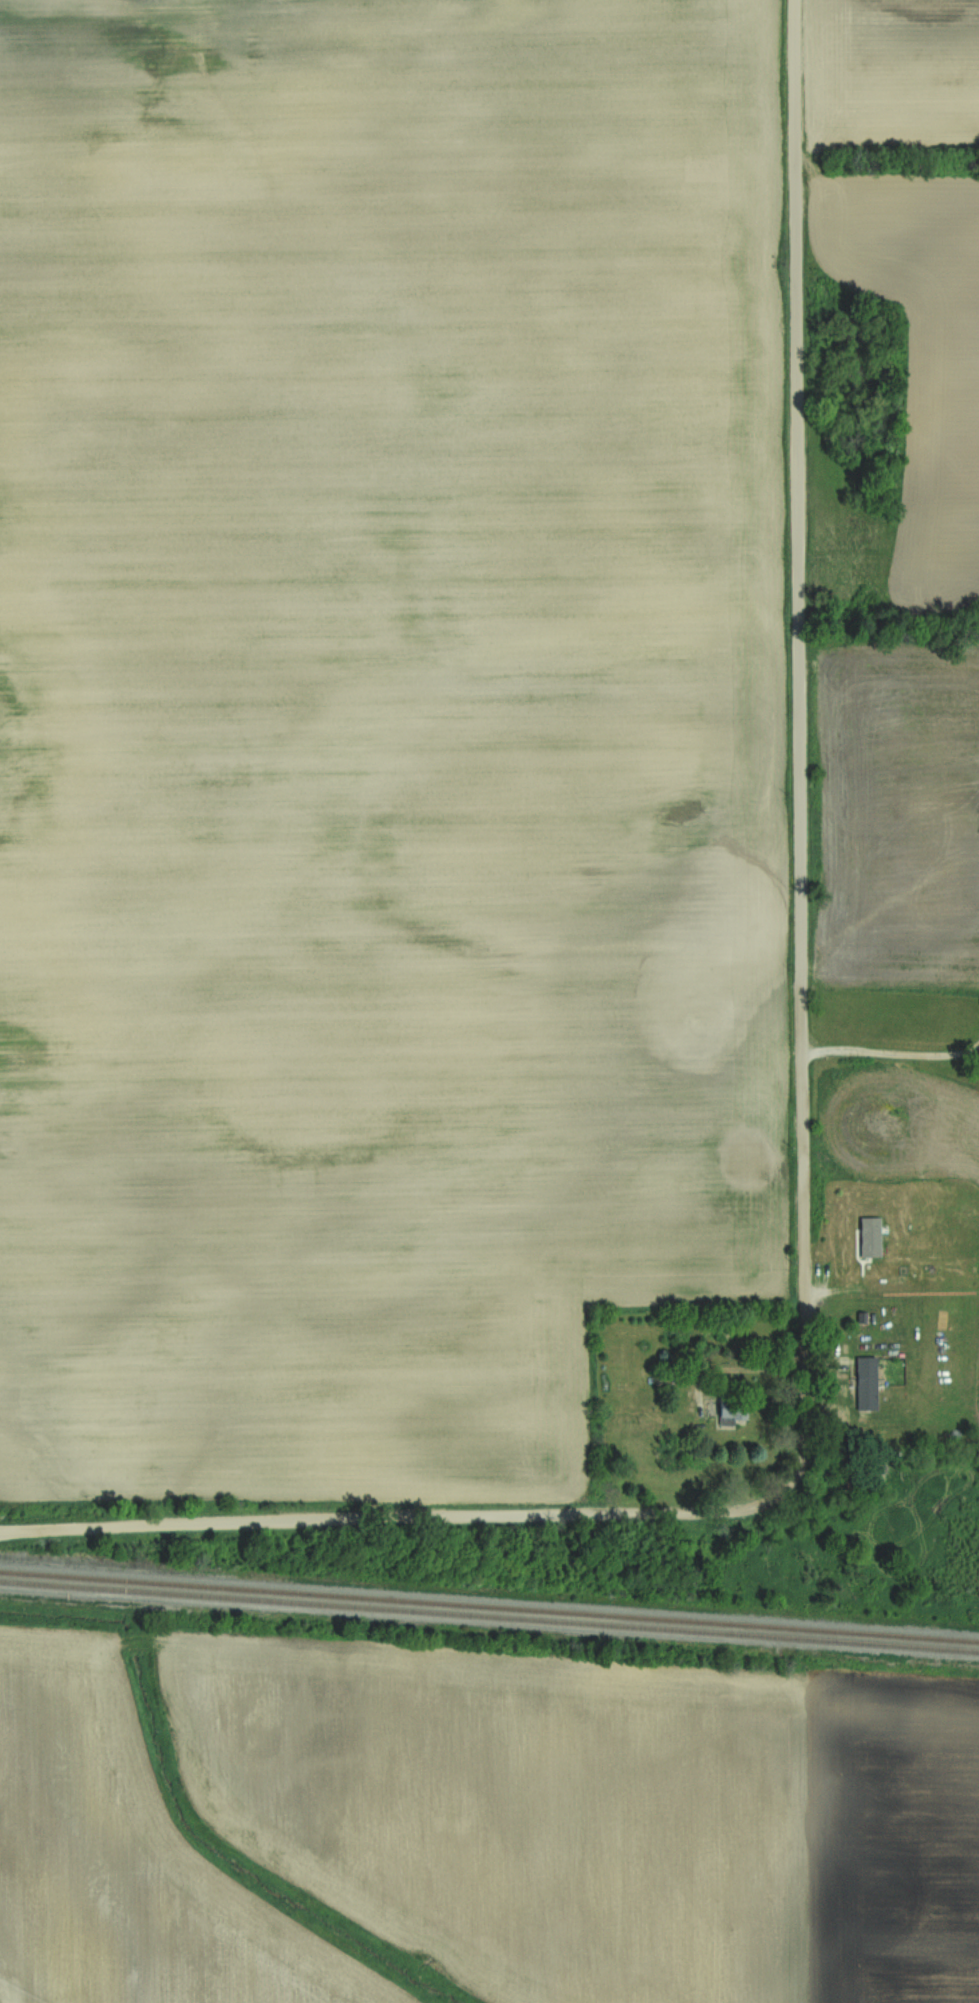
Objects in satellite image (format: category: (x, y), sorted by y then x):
road: (892, 1057)
road: (804, 1143)
building: (871, 1240)
building: (866, 1383)
building: (732, 1414)
railway: (489, 1607)
railway: (489, 1615)

